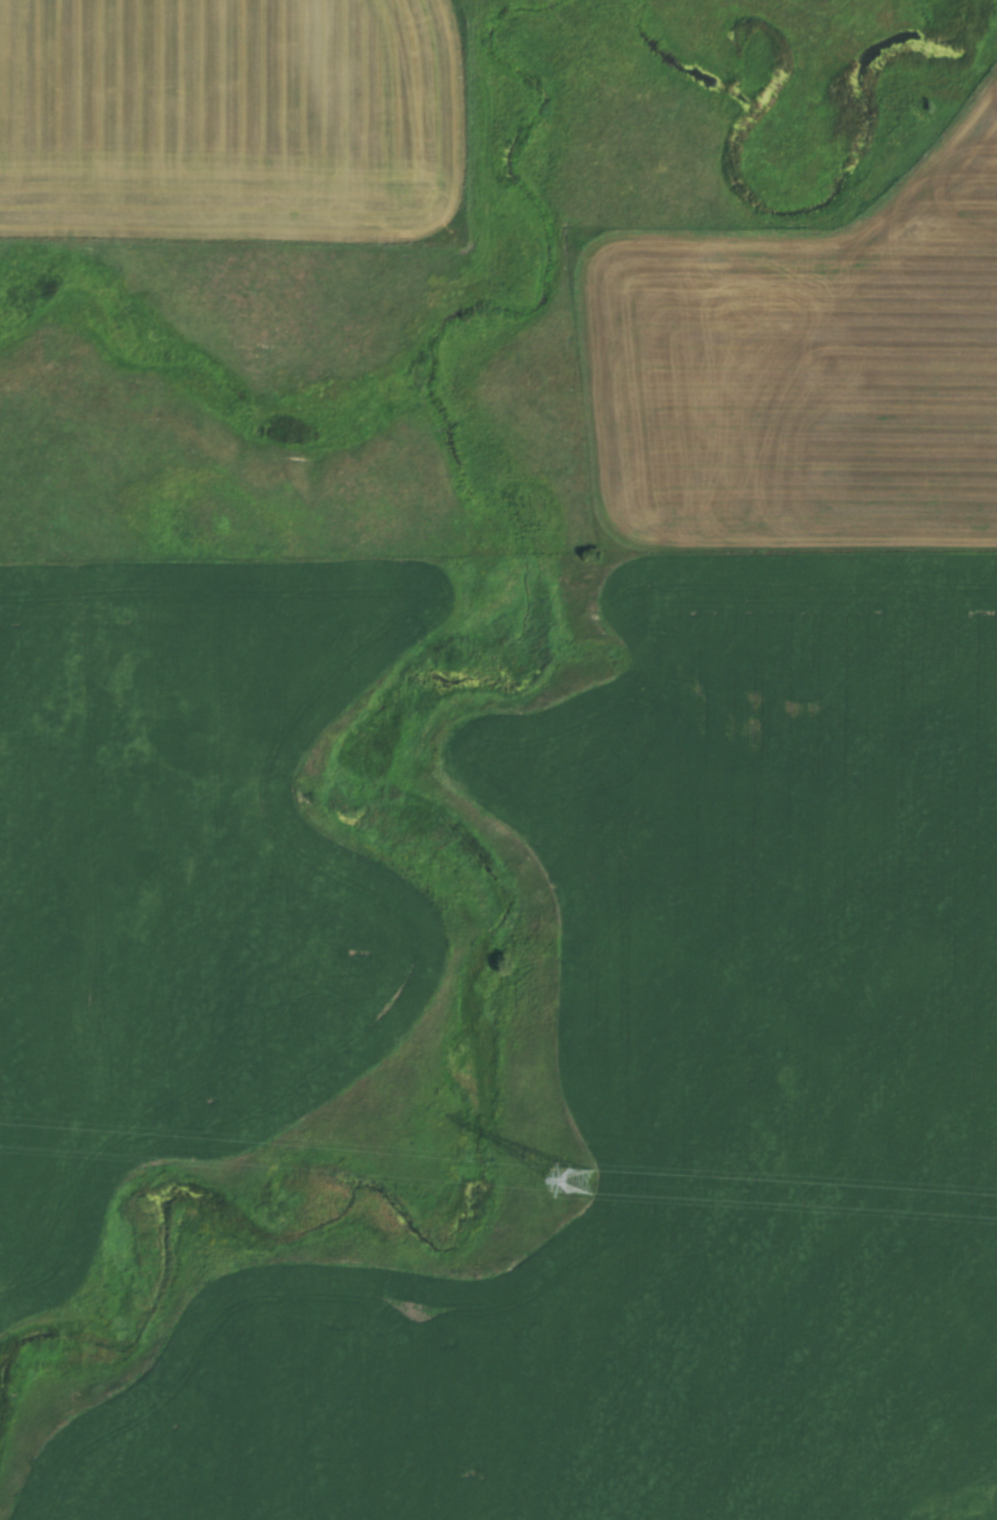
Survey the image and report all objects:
power tower: (577, 1181)

